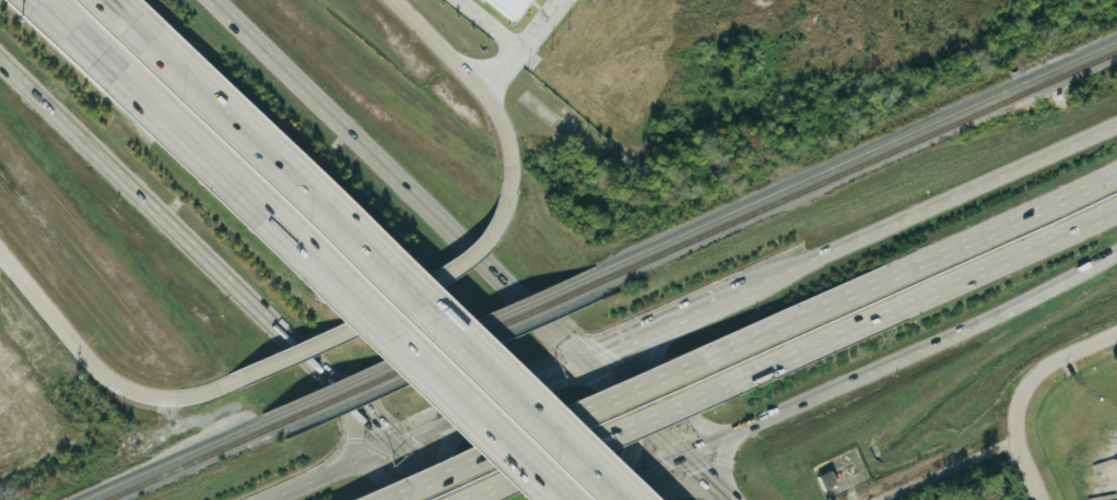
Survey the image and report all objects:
building: (507, 5)
road: (489, 25)
road: (521, 47)
railway: (1071, 58)
railway: (1073, 68)
railway: (1014, 83)
road: (472, 84)
road: (198, 90)
railway: (1019, 92)
road: (146, 107)
railway: (800, 179)
railway: (804, 187)
road: (932, 206)
road: (451, 224)
road: (198, 247)
road: (913, 265)
road: (1058, 278)
road: (922, 296)
road: (702, 306)
road: (385, 308)
road: (457, 340)
road: (623, 340)
railway: (431, 343)
railway: (436, 350)
traffic signals: (588, 355)
road: (405, 357)
road: (1042, 367)
road: (95, 368)
road: (839, 380)
road: (492, 396)
road: (657, 402)
road: (545, 428)
road: (356, 437)
traffic signals: (396, 439)
road: (449, 441)
road: (592, 441)
road: (635, 445)
traffic signals: (681, 454)
road: (725, 456)
railway: (171, 457)
railway: (186, 462)
road: (379, 465)
road: (648, 467)
road: (327, 468)
road: (426, 468)
road: (944, 469)
road: (1026, 469)
road: (709, 476)
building: (826, 478)
road: (691, 484)
road: (595, 490)

